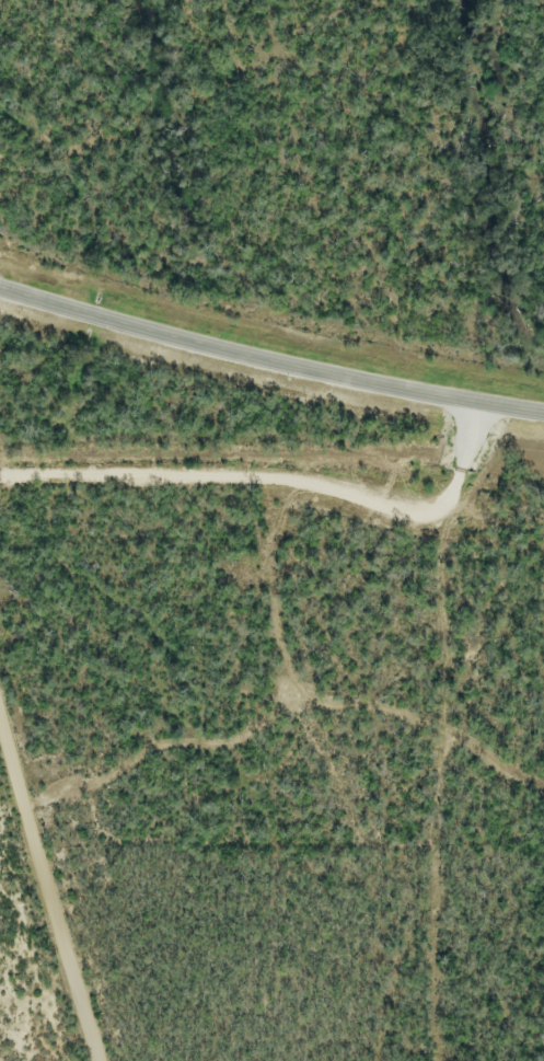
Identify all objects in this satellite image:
road: (269, 362)
road: (278, 481)
road: (46, 888)

